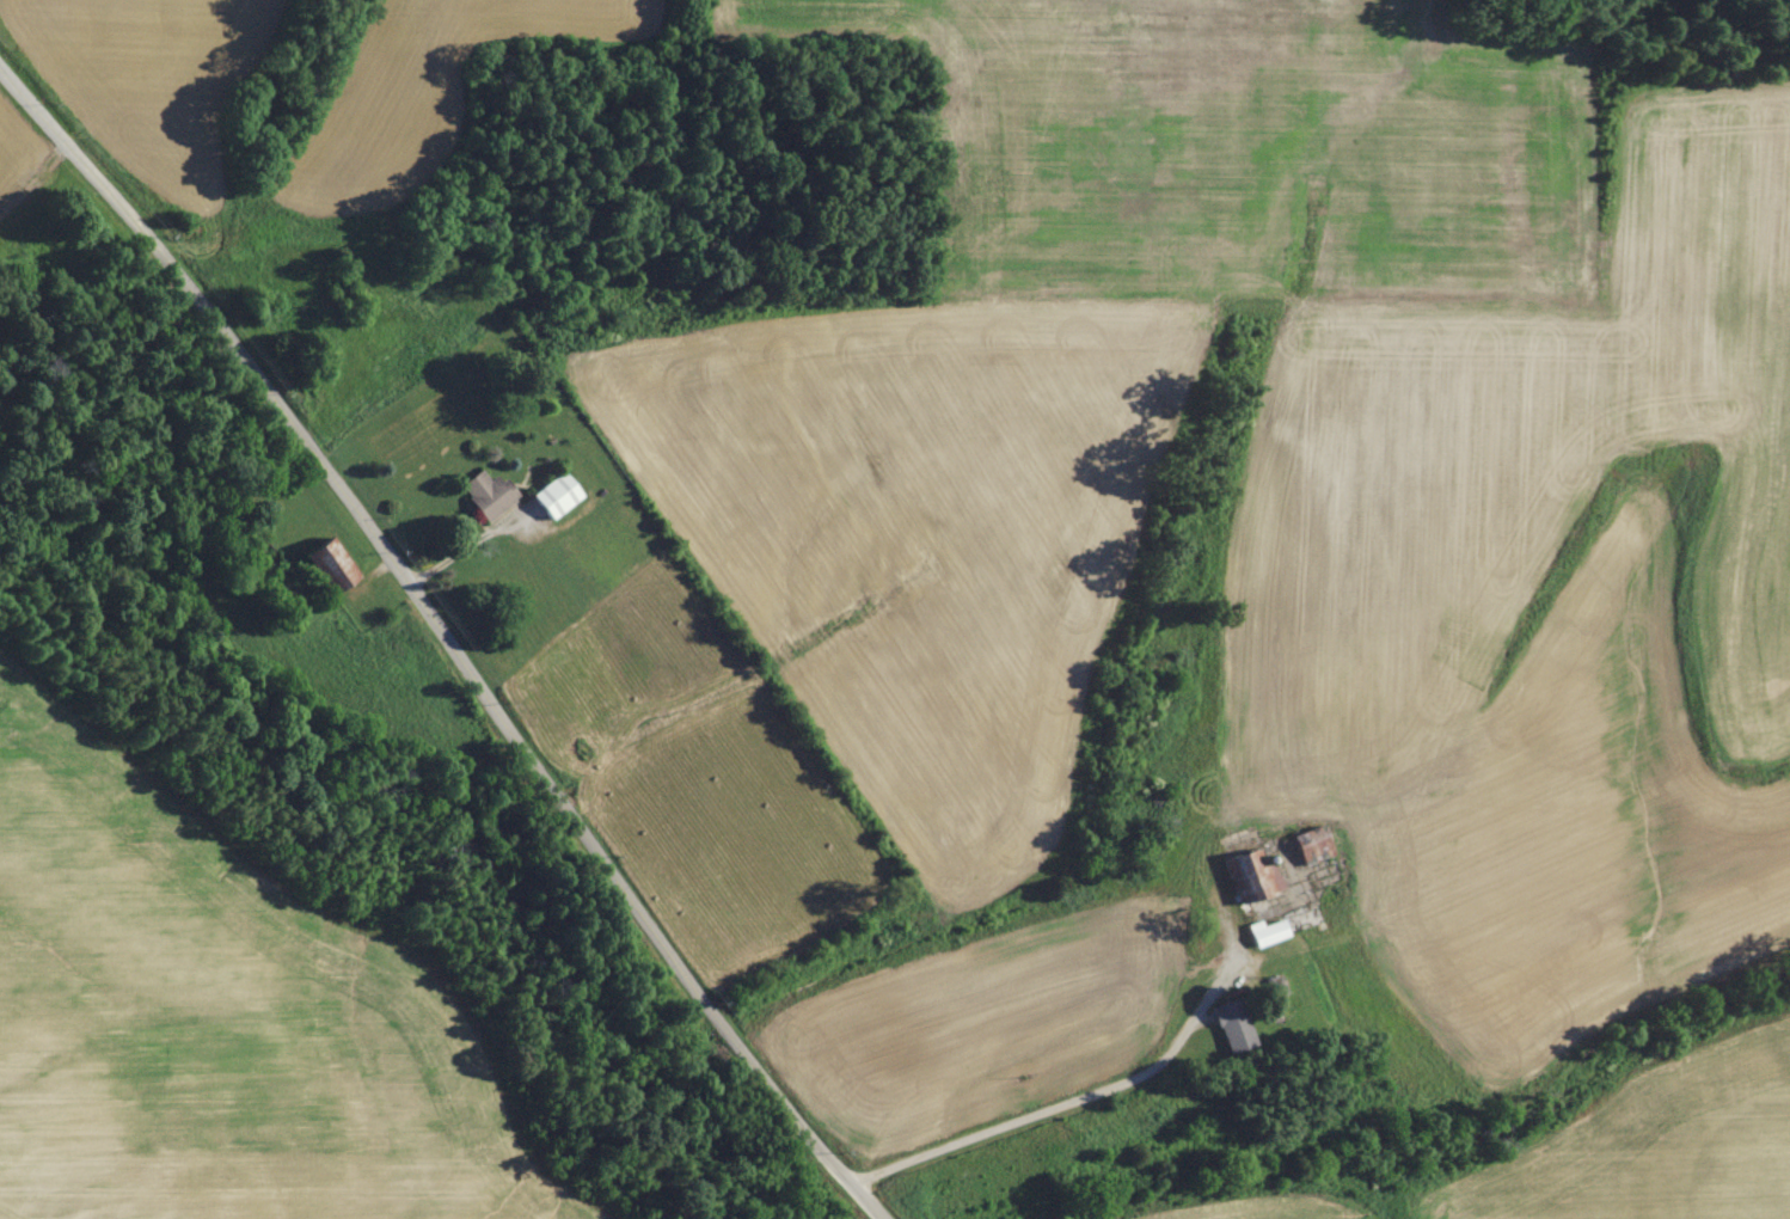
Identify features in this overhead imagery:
building: (482, 492)
building: (551, 495)
building: (319, 561)
road: (449, 638)
building: (1306, 843)
building: (1261, 930)
building: (1227, 1027)
road: (1107, 1089)

